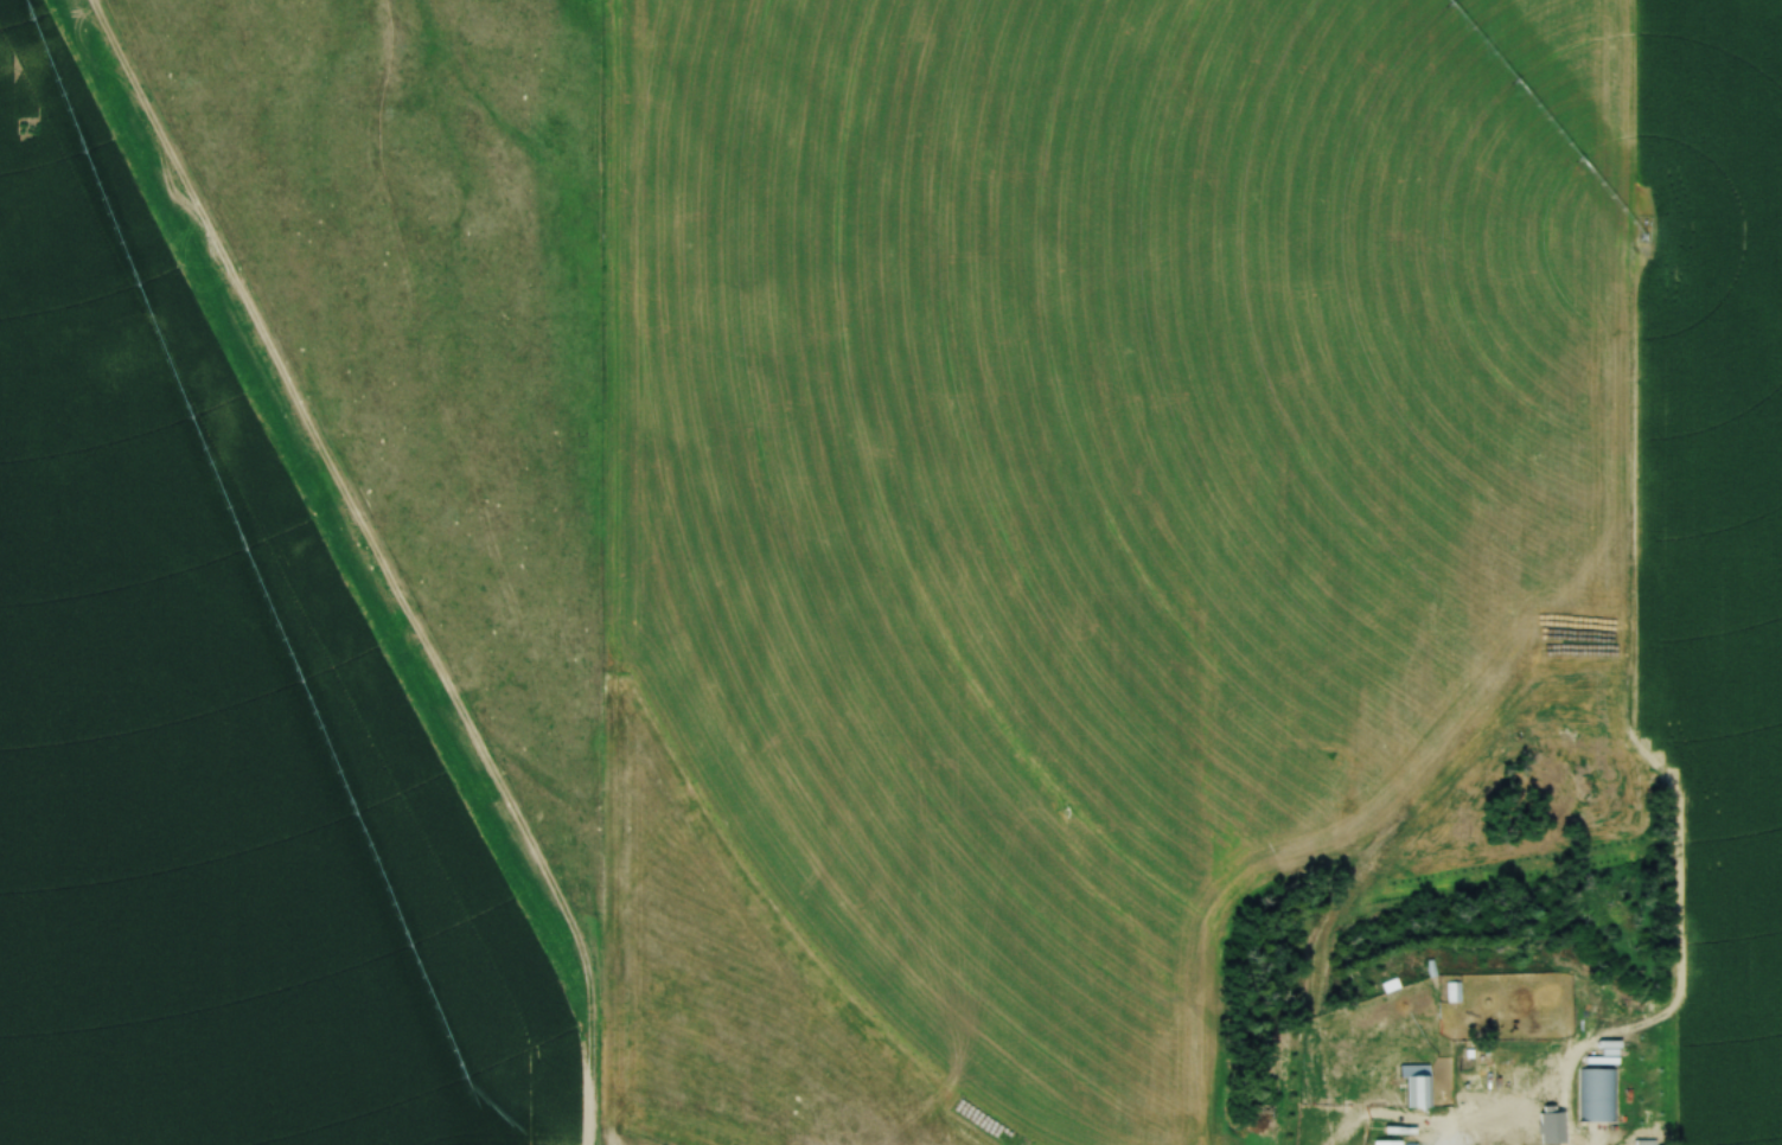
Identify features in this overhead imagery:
road: (1676, 970)
building: (1416, 1088)
building: (1592, 1096)
road: (1592, 1139)

